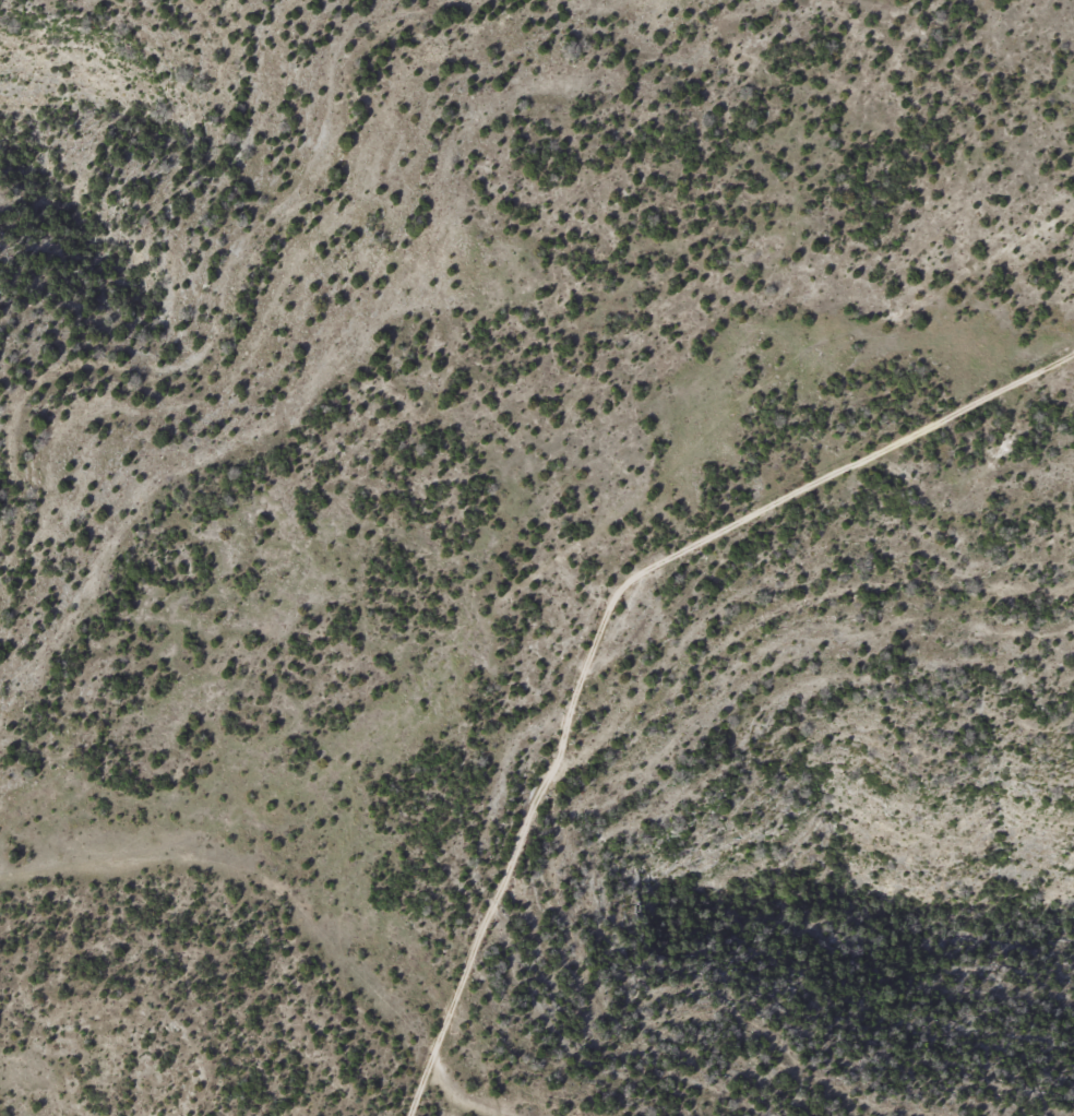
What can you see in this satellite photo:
road: (546, 571)

